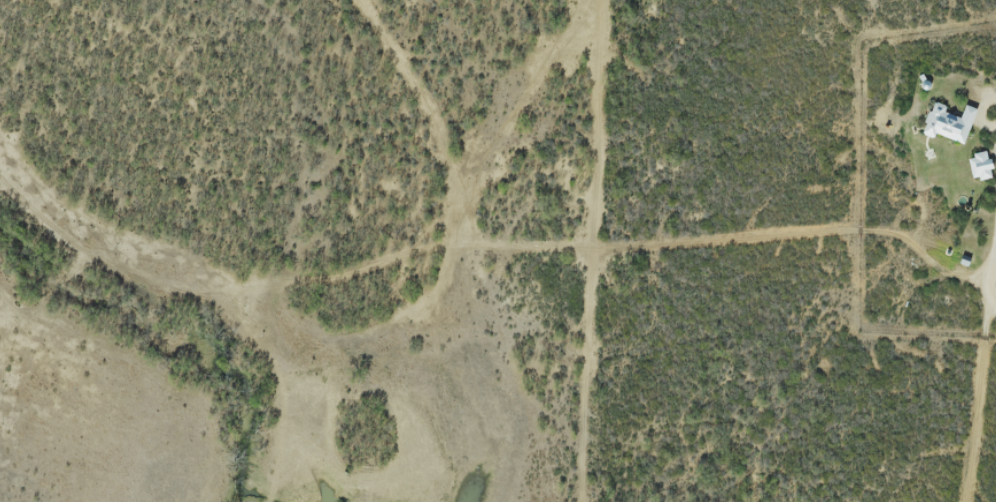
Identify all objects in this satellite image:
road: (991, 276)

